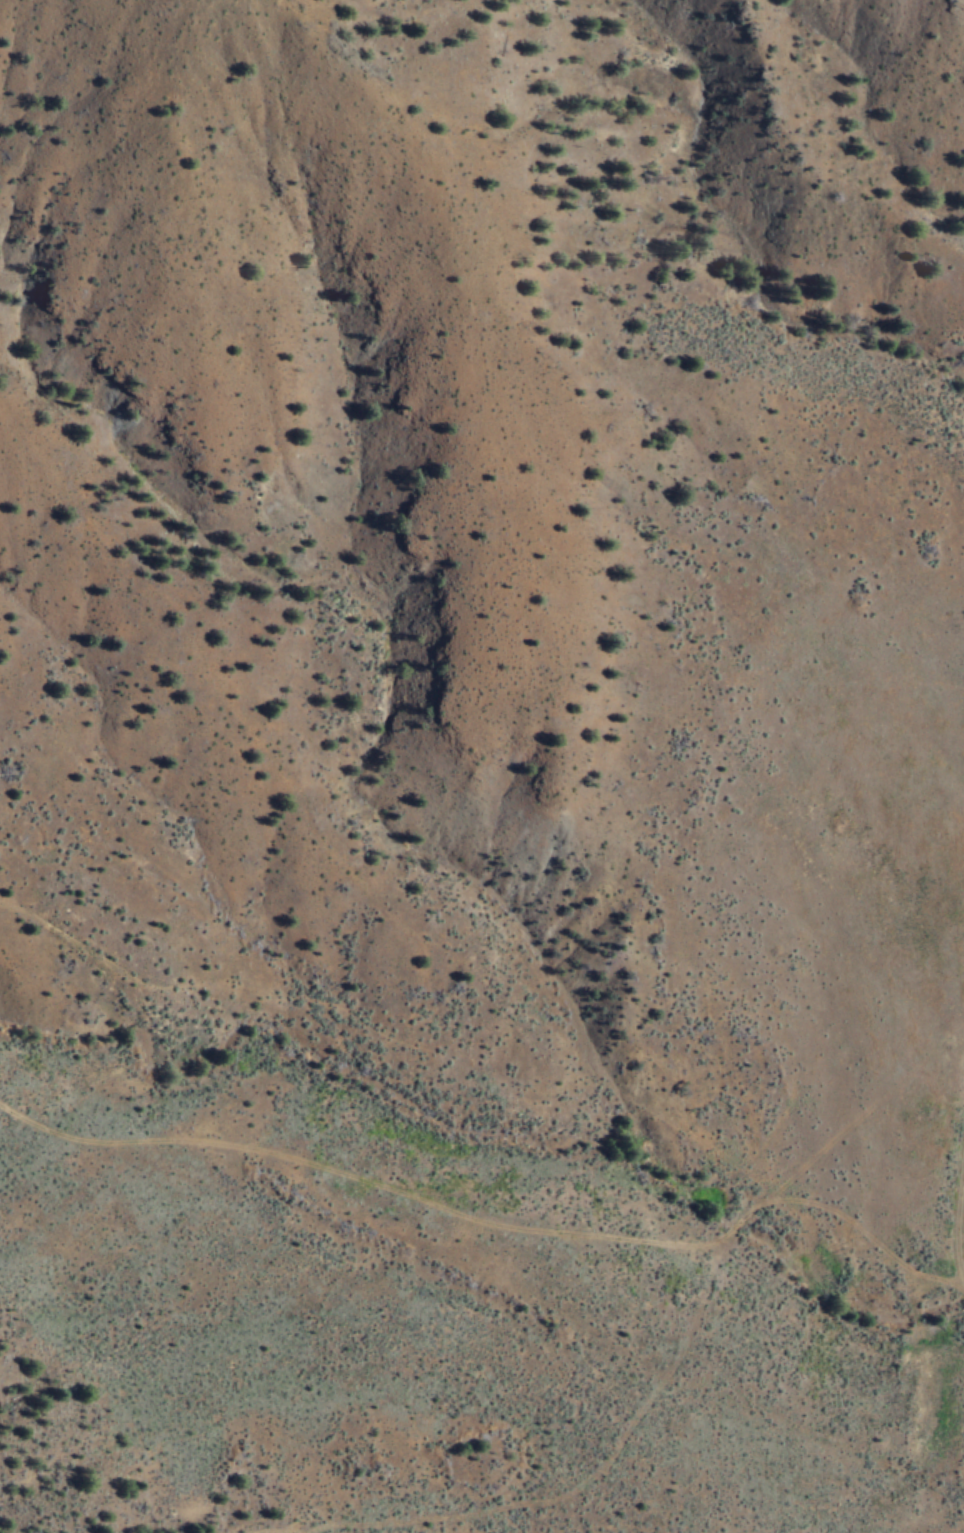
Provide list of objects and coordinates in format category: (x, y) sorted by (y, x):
road: (939, 1168)

